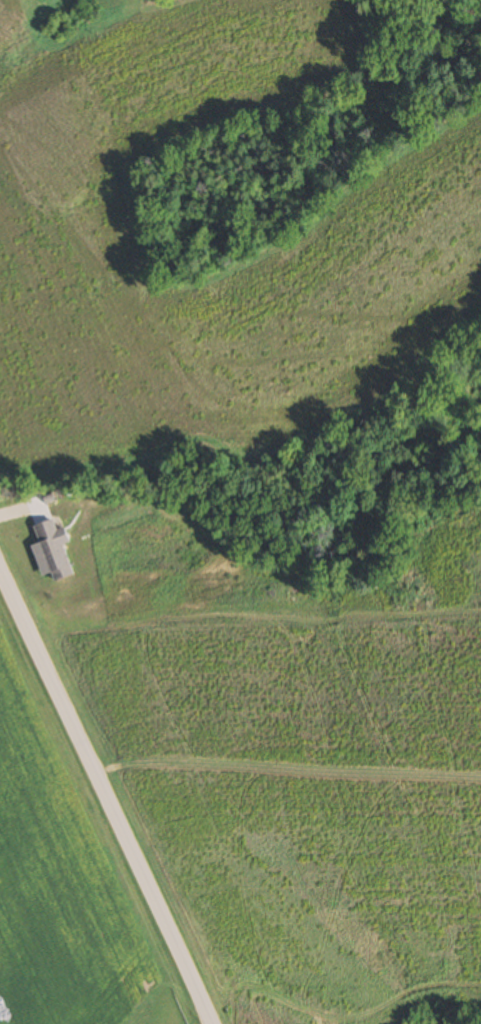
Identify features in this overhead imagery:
road: (105, 799)

